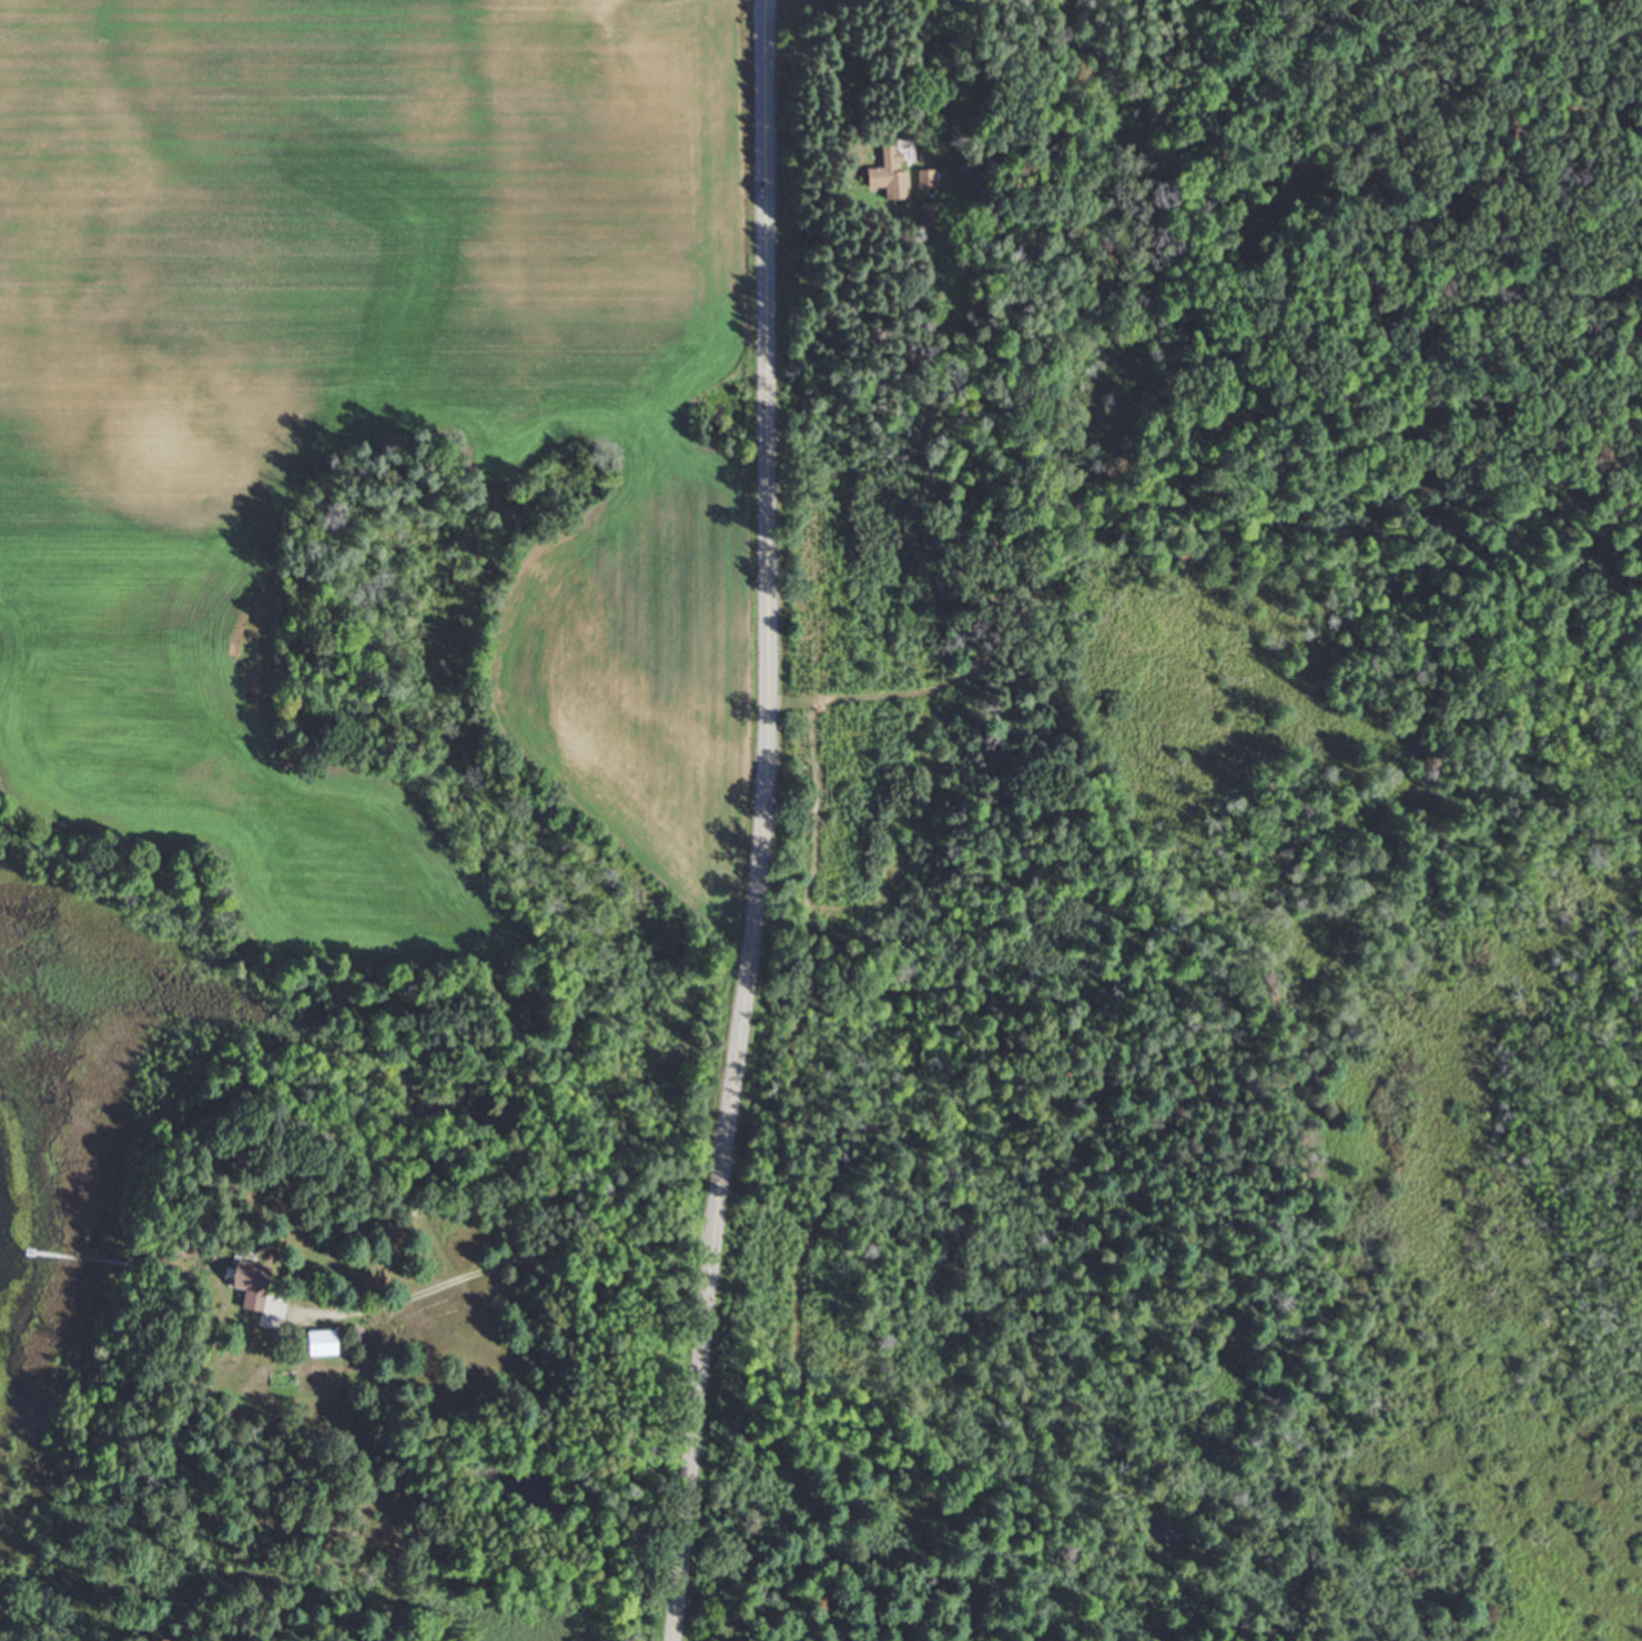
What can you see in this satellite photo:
building: (885, 178)
building: (924, 178)
road: (760, 822)
road: (504, 1263)
building: (252, 1285)
building: (323, 1343)

